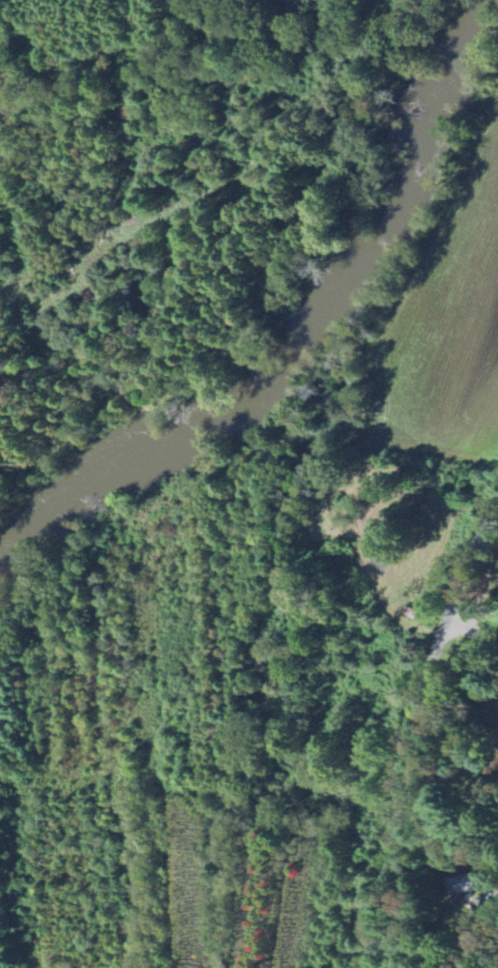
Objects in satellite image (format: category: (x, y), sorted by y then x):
river: (445, 84)
river: (244, 408)
road: (469, 631)
road: (412, 729)

